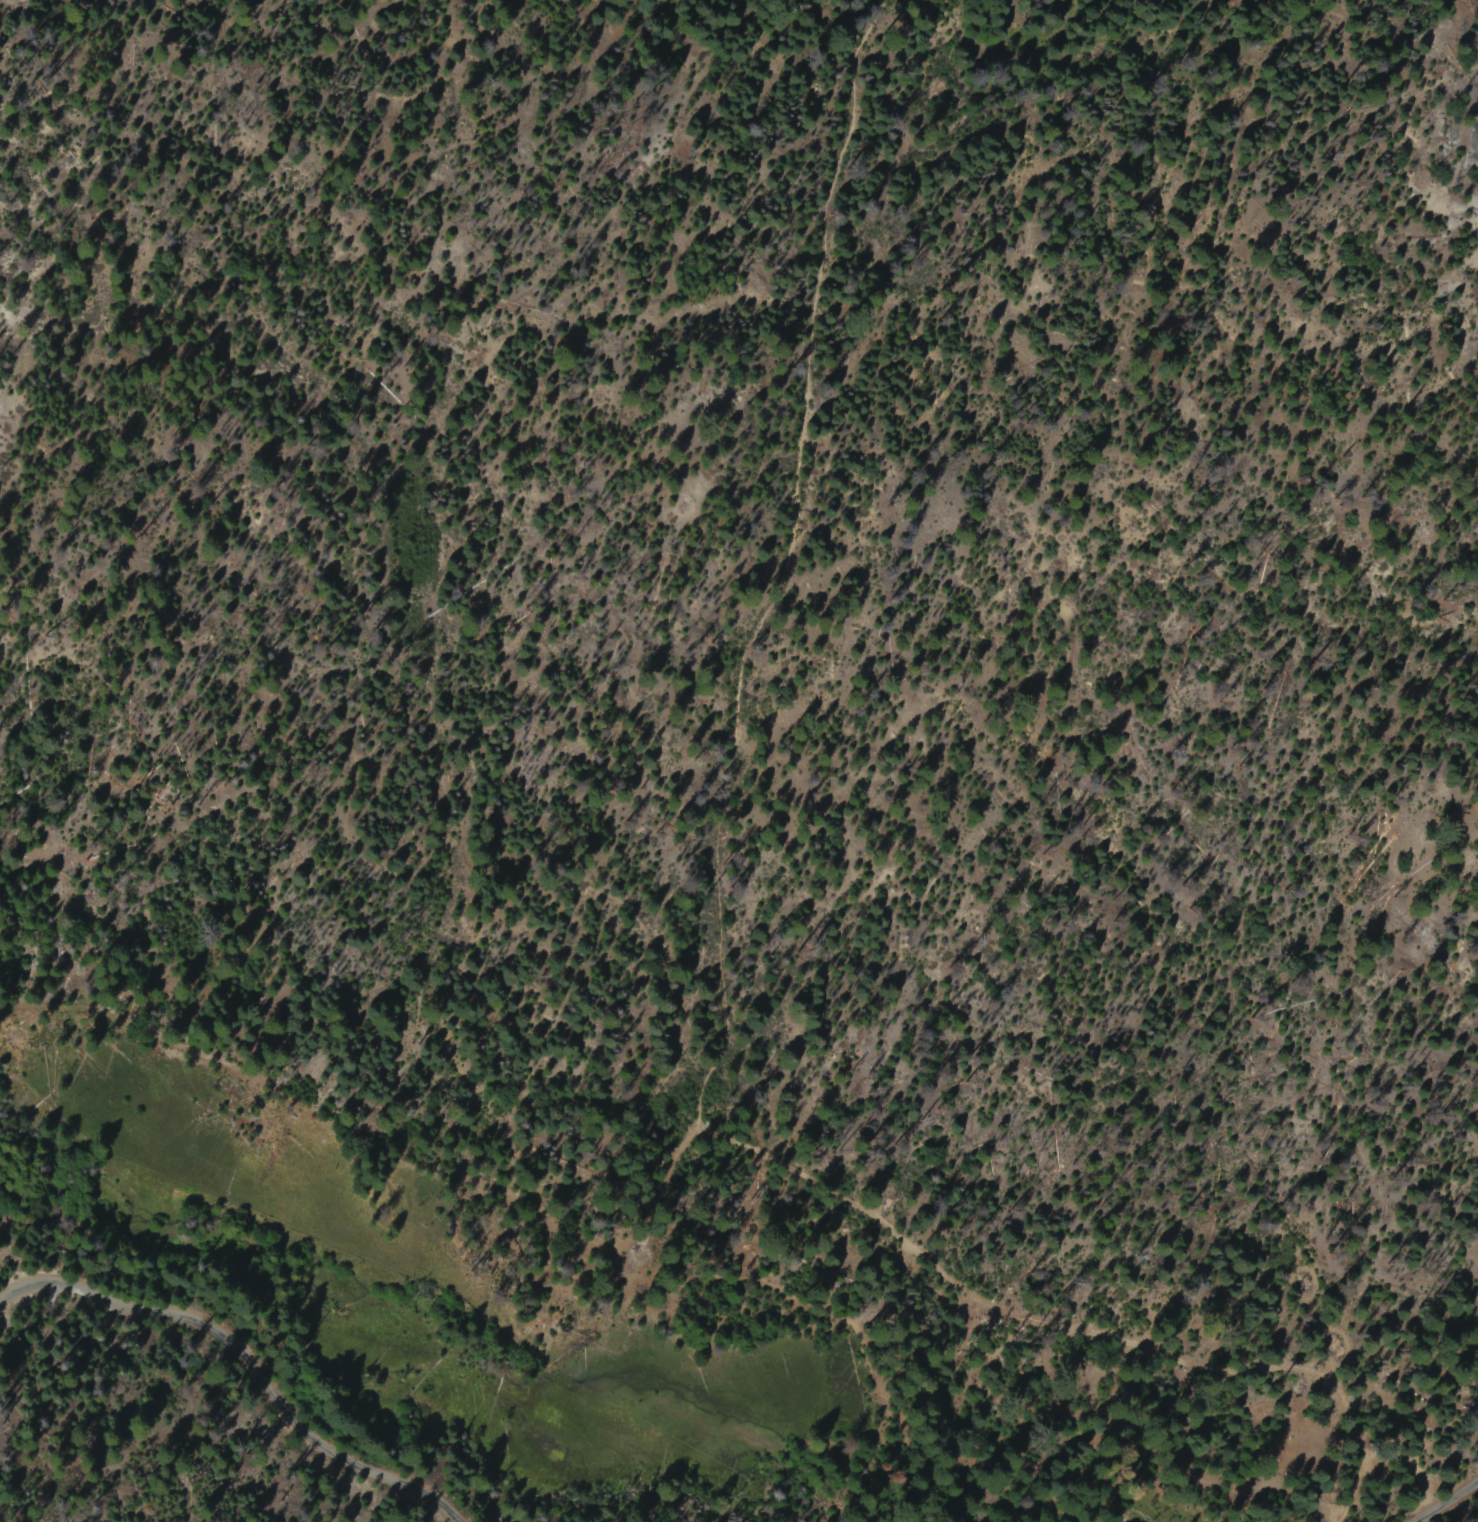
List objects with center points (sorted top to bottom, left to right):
road: (23, 1288)
road: (257, 1380)
road: (1424, 1483)

